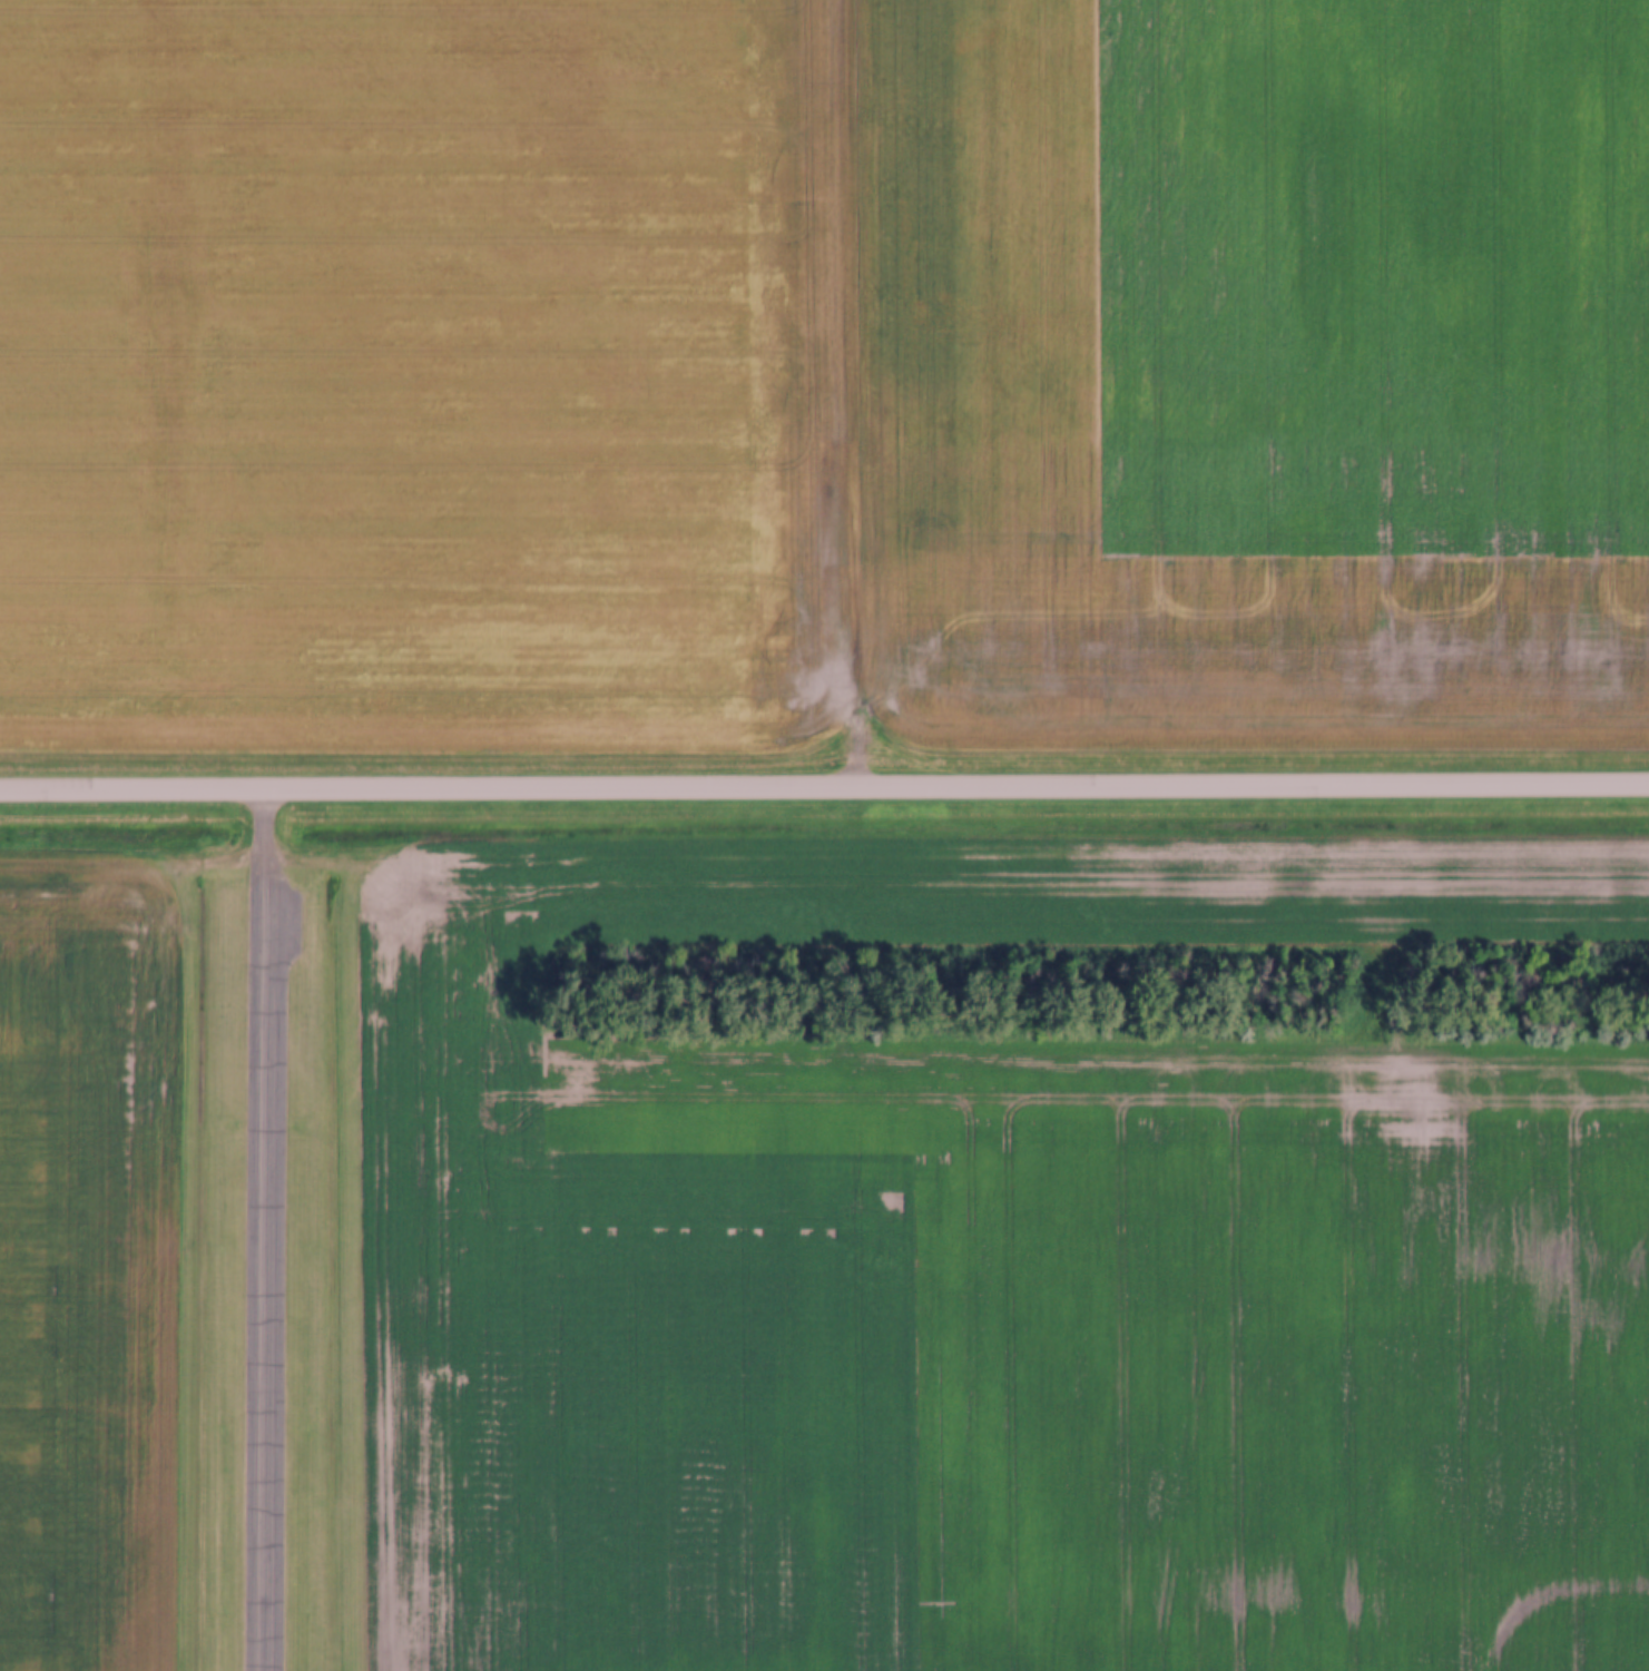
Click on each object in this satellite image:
road: (824, 788)
road: (264, 829)
airport runway: (262, 1268)

